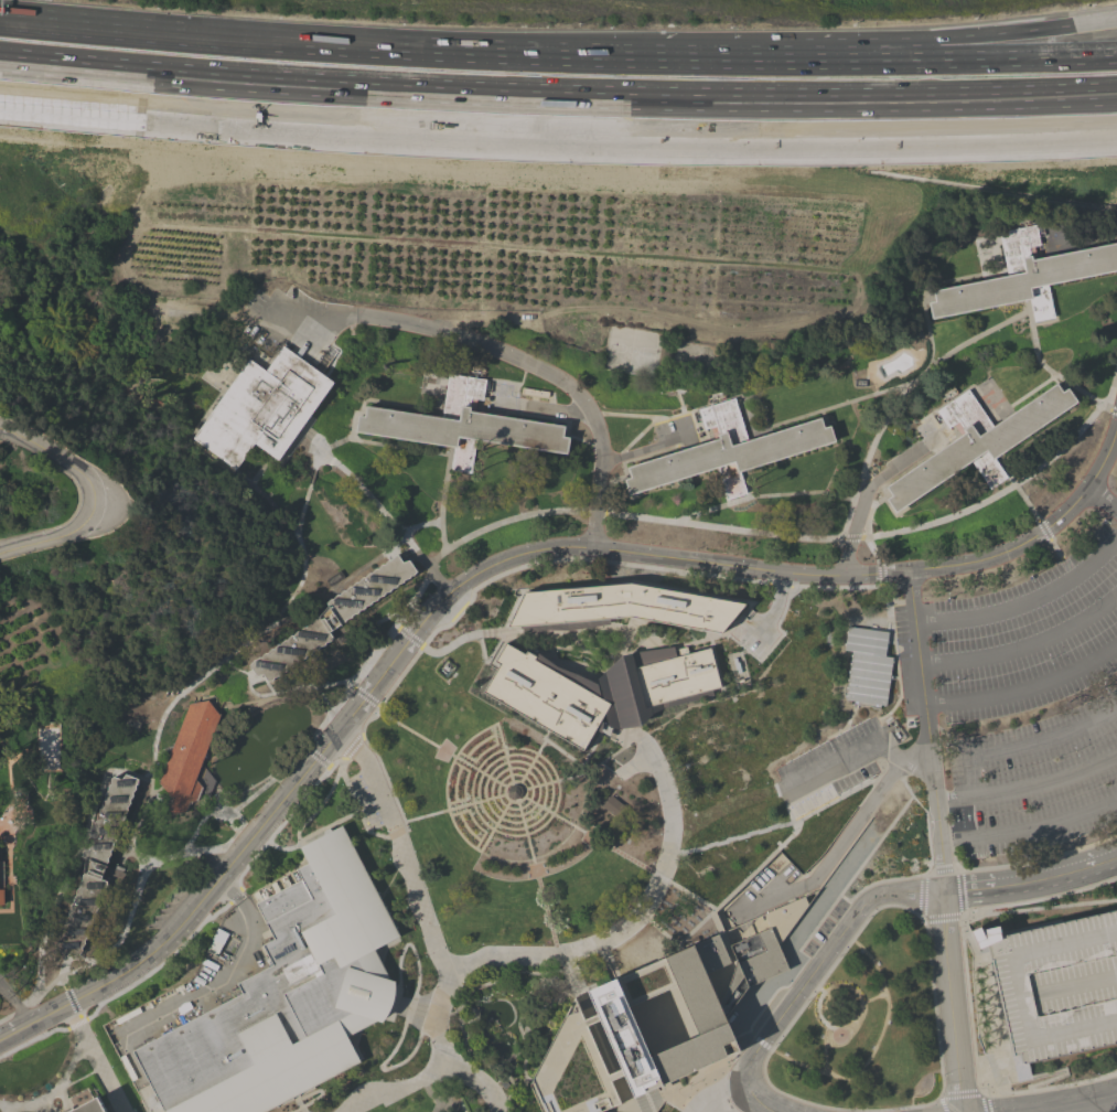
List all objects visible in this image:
road: (959, 35)
road: (625, 56)
road: (557, 64)
railway: (557, 87)
road: (457, 109)
road: (1017, 113)
road: (1016, 126)
road: (1087, 226)
crop: (178, 263)
building: (1024, 276)
parking lot: (276, 318)
park: (632, 351)
road: (514, 357)
park: (696, 360)
road: (1063, 381)
road: (903, 382)
road: (1064, 384)
road: (909, 388)
parking lot: (501, 391)
road: (1032, 392)
road: (675, 393)
building: (262, 408)
road: (540, 409)
road: (1113, 409)
road: (662, 417)
road: (551, 418)
building: (462, 425)
parking lot: (924, 429)
road: (636, 436)
road: (313, 441)
building: (976, 441)
road: (332, 447)
road: (397, 448)
road: (645, 449)
building: (727, 451)
parking lot: (903, 453)
road: (623, 468)
road: (259, 471)
road: (864, 477)
road: (748, 484)
road: (255, 490)
road: (364, 490)
road: (762, 495)
road: (95, 496)
road: (442, 498)
road: (863, 498)
road: (1102, 498)
road: (867, 521)
road: (421, 526)
road: (1044, 531)
road: (1040, 532)
road: (787, 537)
road: (297, 543)
road: (1055, 549)
road: (534, 563)
road: (880, 573)
road: (842, 586)
road: (1025, 601)
building: (620, 607)
road: (773, 611)
building: (332, 618)
road: (407, 634)
road: (627, 634)
road: (550, 639)
road: (1024, 641)
parking lot: (751, 643)
road: (449, 646)
road: (394, 656)
parking lot: (903, 660)
road: (219, 661)
road: (486, 661)
building: (867, 665)
road: (247, 678)
building: (600, 688)
road: (1024, 689)
road: (283, 694)
road: (364, 695)
road: (339, 699)
parking lot: (1031, 703)
road: (845, 726)
road: (351, 746)
road: (1028, 747)
road: (439, 748)
road: (503, 751)
road: (6, 752)
road: (161, 755)
building: (186, 755)
road: (313, 756)
road: (534, 756)
road: (848, 757)
road: (905, 758)
parking lot: (828, 768)
road: (584, 771)
road: (136, 776)
road: (9, 777)
road: (385, 780)
road: (444, 781)
road: (1027, 785)
road: (154, 790)
road: (326, 793)
road: (484, 798)
parking lot: (366, 801)
road: (539, 805)
road: (517, 808)
road: (357, 809)
building: (619, 809)
road: (545, 810)
road: (501, 812)
road: (278, 825)
road: (492, 825)
road: (776, 826)
road: (490, 828)
road: (1030, 831)
road: (193, 832)
road: (396, 832)
road: (938, 841)
road: (129, 849)
road: (617, 853)
road: (833, 854)
road: (530, 858)
road: (1038, 858)
road: (954, 859)
building: (95, 865)
road: (9, 868)
road: (938, 868)
road: (536, 877)
road: (4, 879)
road: (876, 881)
road: (1030, 881)
road: (738, 886)
road: (653, 890)
road: (959, 890)
building: (497, 894)
road: (233, 896)
road: (922, 896)
building: (1, 897)
road: (131, 902)
road: (1039, 907)
parking lot: (168, 908)
road: (942, 916)
road: (428, 923)
parking lot: (825, 928)
road: (45, 930)
road: (125, 944)
road: (797, 949)
road: (606, 960)
road: (505, 964)
road: (155, 966)
road: (543, 974)
road: (810, 974)
road: (63, 982)
road: (504, 983)
building: (1056, 984)
parking lot: (1056, 984)
road: (1075, 986)
road: (1, 987)
road: (479, 987)
road: (818, 990)
road: (1021, 992)
road: (966, 993)
road: (208, 995)
building: (287, 996)
road: (872, 997)
building: (616, 999)
road: (986, 999)
road: (14, 1003)
street lamp: (36, 1004)
road: (72, 1004)
road: (459, 1007)
road: (18, 1008)
road: (409, 1012)
road: (430, 1014)
road: (4, 1016)
road: (520, 1017)
road: (590, 1020)
park: (867, 1025)
road: (837, 1028)
road: (595, 1034)
road: (37, 1035)
road: (758, 1039)
road: (872, 1047)
road: (823, 1049)
road: (519, 1050)
road: (511, 1058)
road: (484, 1063)
road: (497, 1063)
road: (98, 1068)
road: (1061, 1069)
road: (1110, 1071)
road: (614, 1076)
road: (77, 1078)
road: (57, 1087)
road: (395, 1088)
road: (319, 1091)
road: (428, 1092)
road: (969, 1092)
road: (670, 1100)
road: (809, 1102)
road: (1073, 1104)
building: (90, 1106)
road: (437, 1106)
road: (717, 1106)
road: (461, 1108)
road: (6, 1109)
road: (296, 1110)

